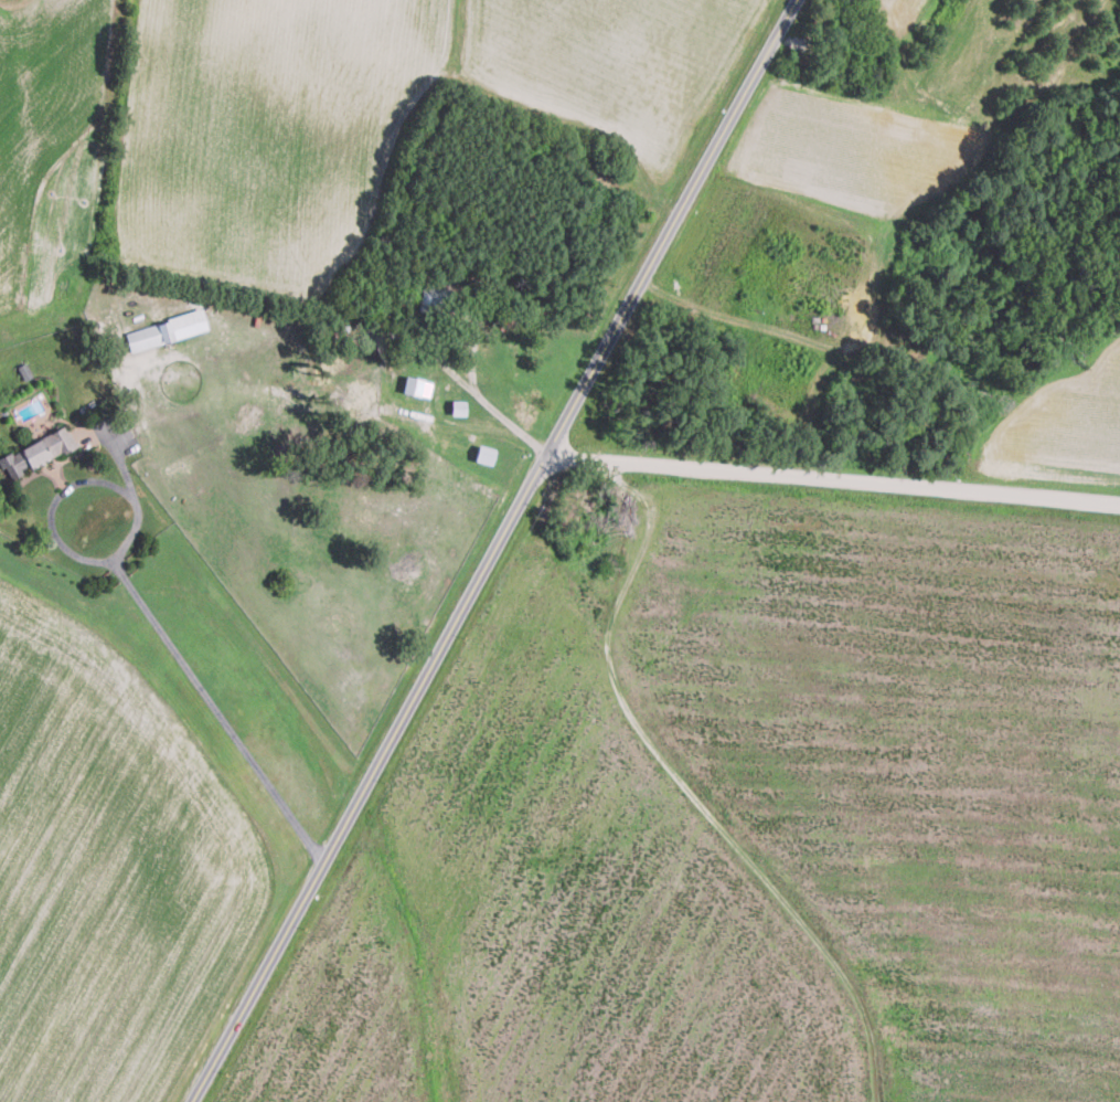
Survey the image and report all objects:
building: (433, 297)
building: (159, 330)
building: (417, 386)
building: (458, 406)
road: (500, 414)
building: (38, 452)
building: (486, 454)
road: (840, 480)
road: (503, 552)
road: (207, 697)

